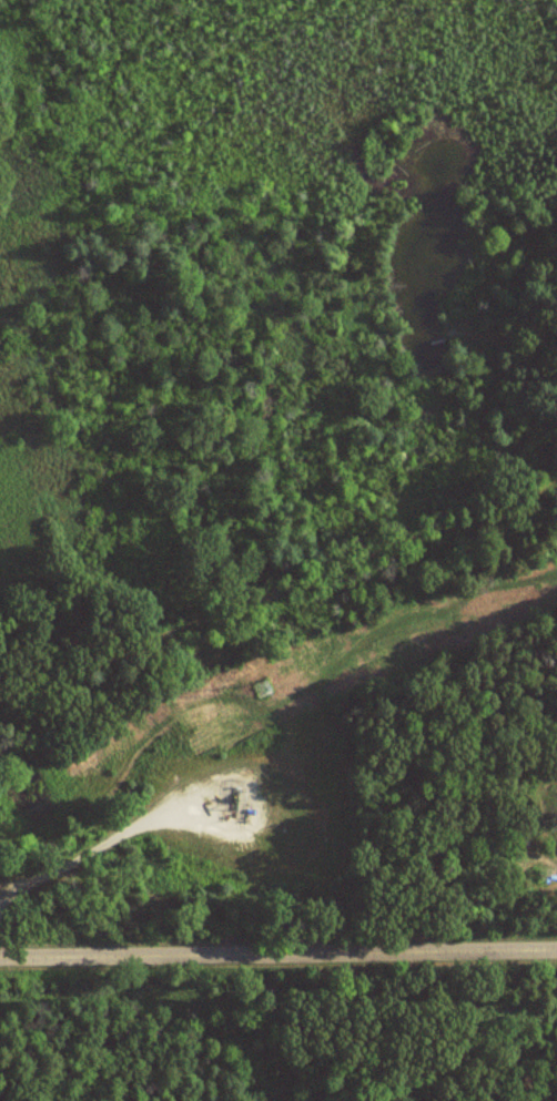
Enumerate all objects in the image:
building: (198, 778)
building: (315, 778)
road: (278, 955)

